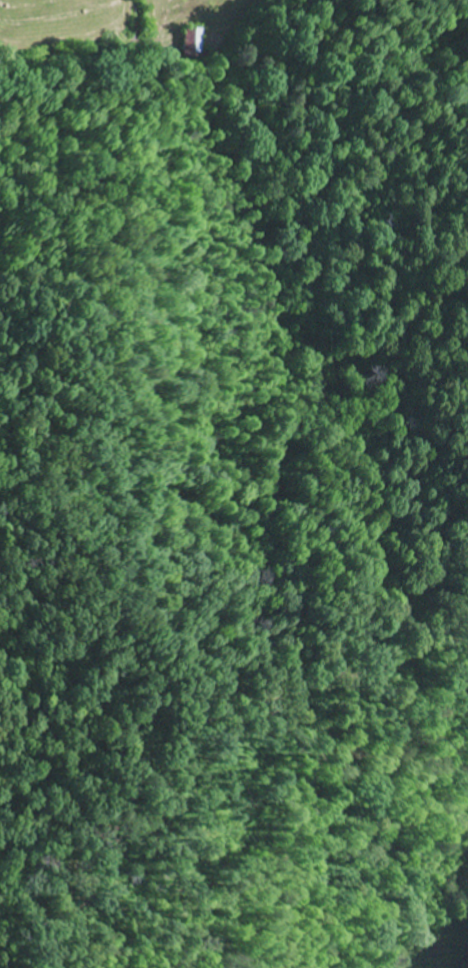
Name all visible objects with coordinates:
building: (193, 40)

